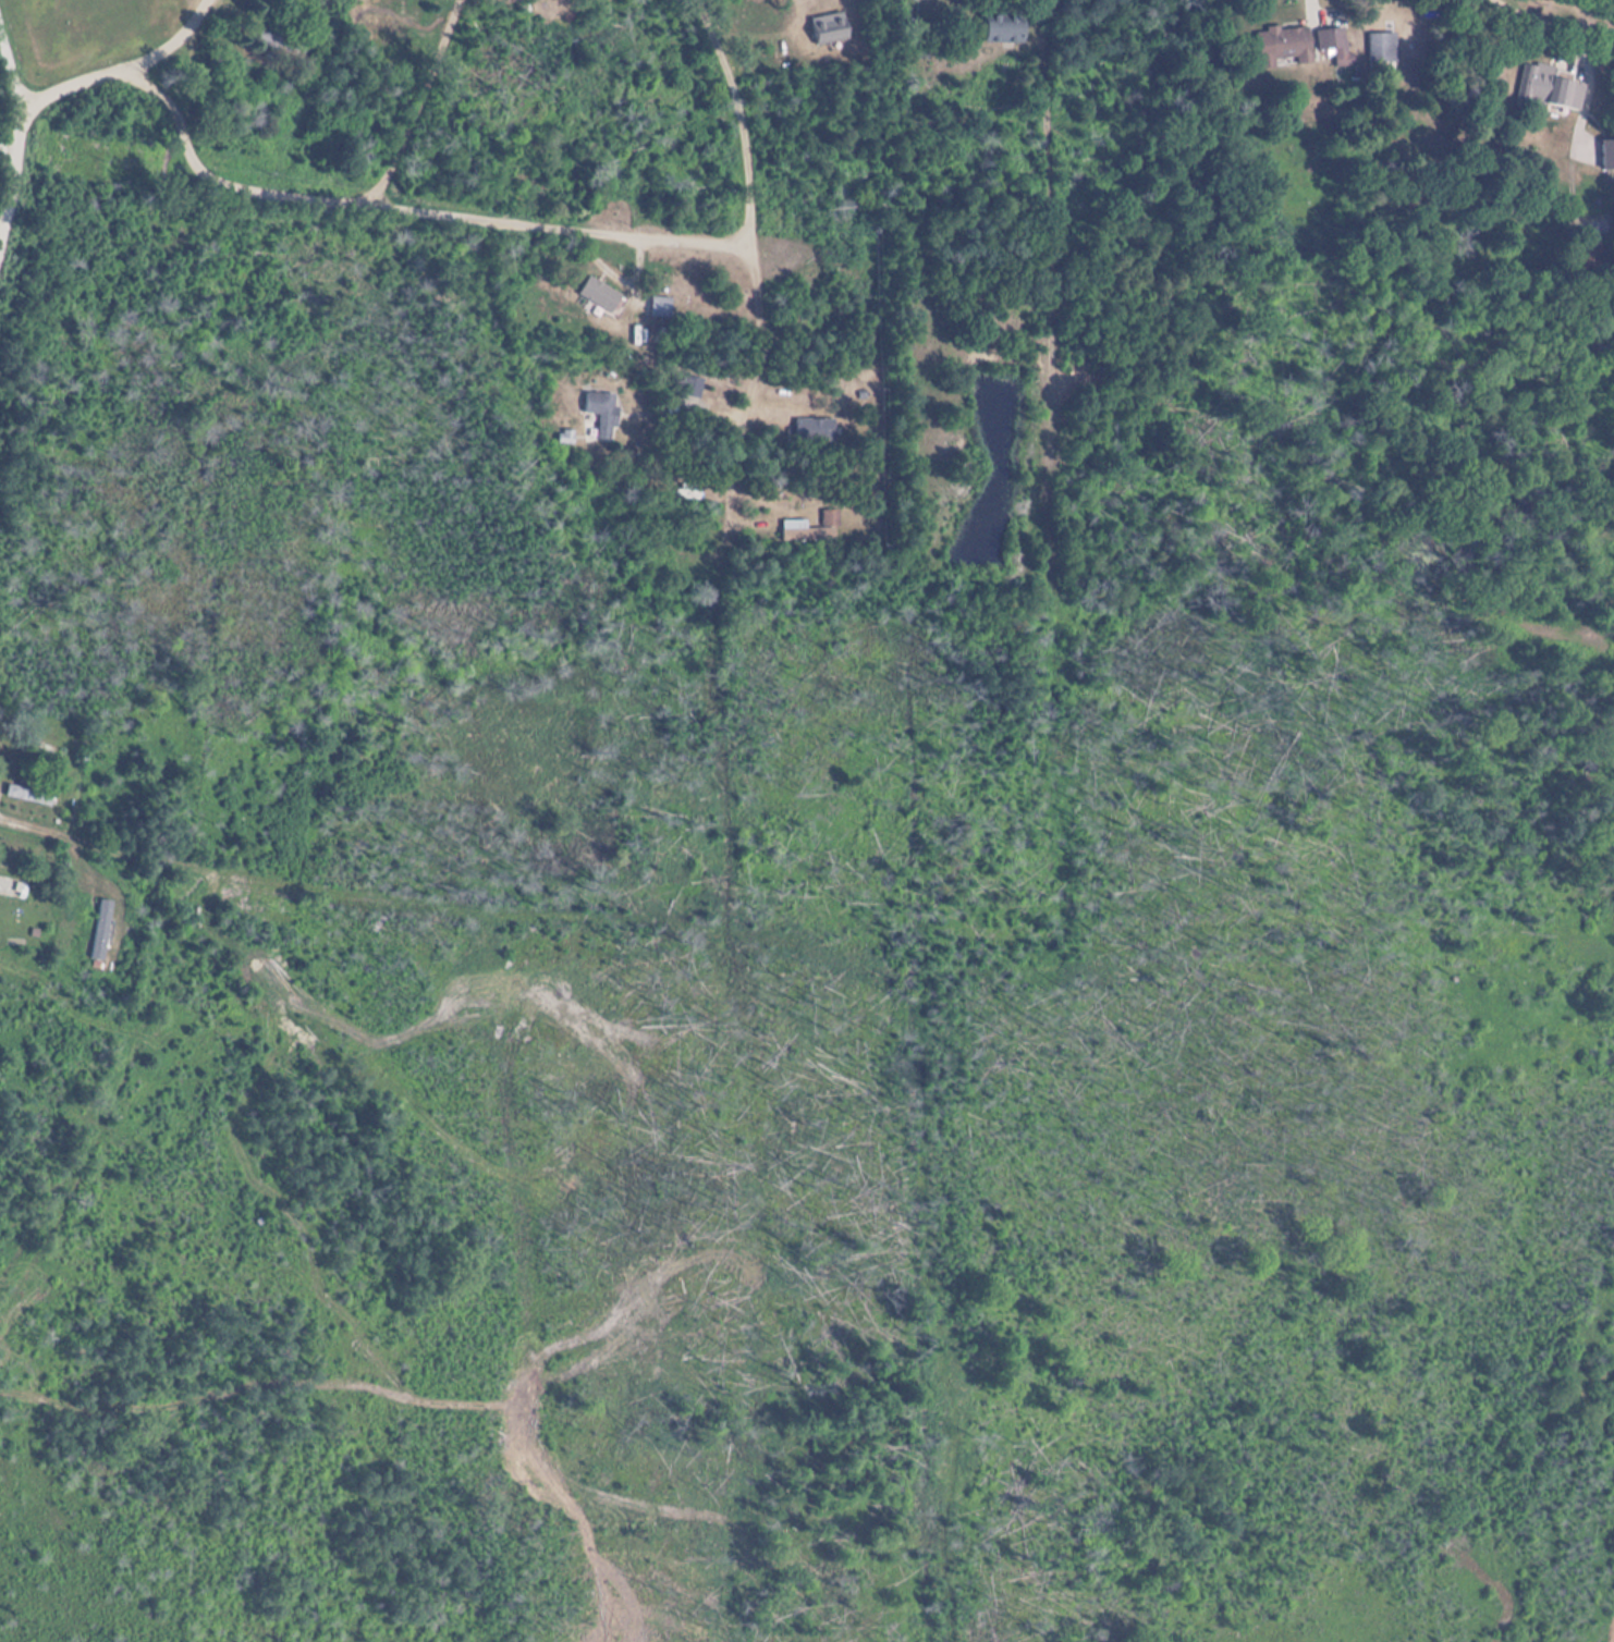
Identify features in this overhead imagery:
road: (1566, 13)
building: (829, 28)
building: (1002, 29)
building: (282, 44)
building: (1335, 46)
building: (1283, 47)
building: (1382, 48)
road: (115, 64)
road: (7, 71)
building: (1549, 88)
road: (412, 102)
building: (1606, 156)
road: (11, 160)
road: (5, 182)
road: (401, 205)
road: (751, 267)
road: (1053, 293)
building: (601, 295)
building: (659, 306)
building: (692, 385)
building: (602, 412)
building: (815, 430)
building: (811, 528)
building: (29, 794)
road: (82, 866)
road: (390, 914)
building: (101, 930)

